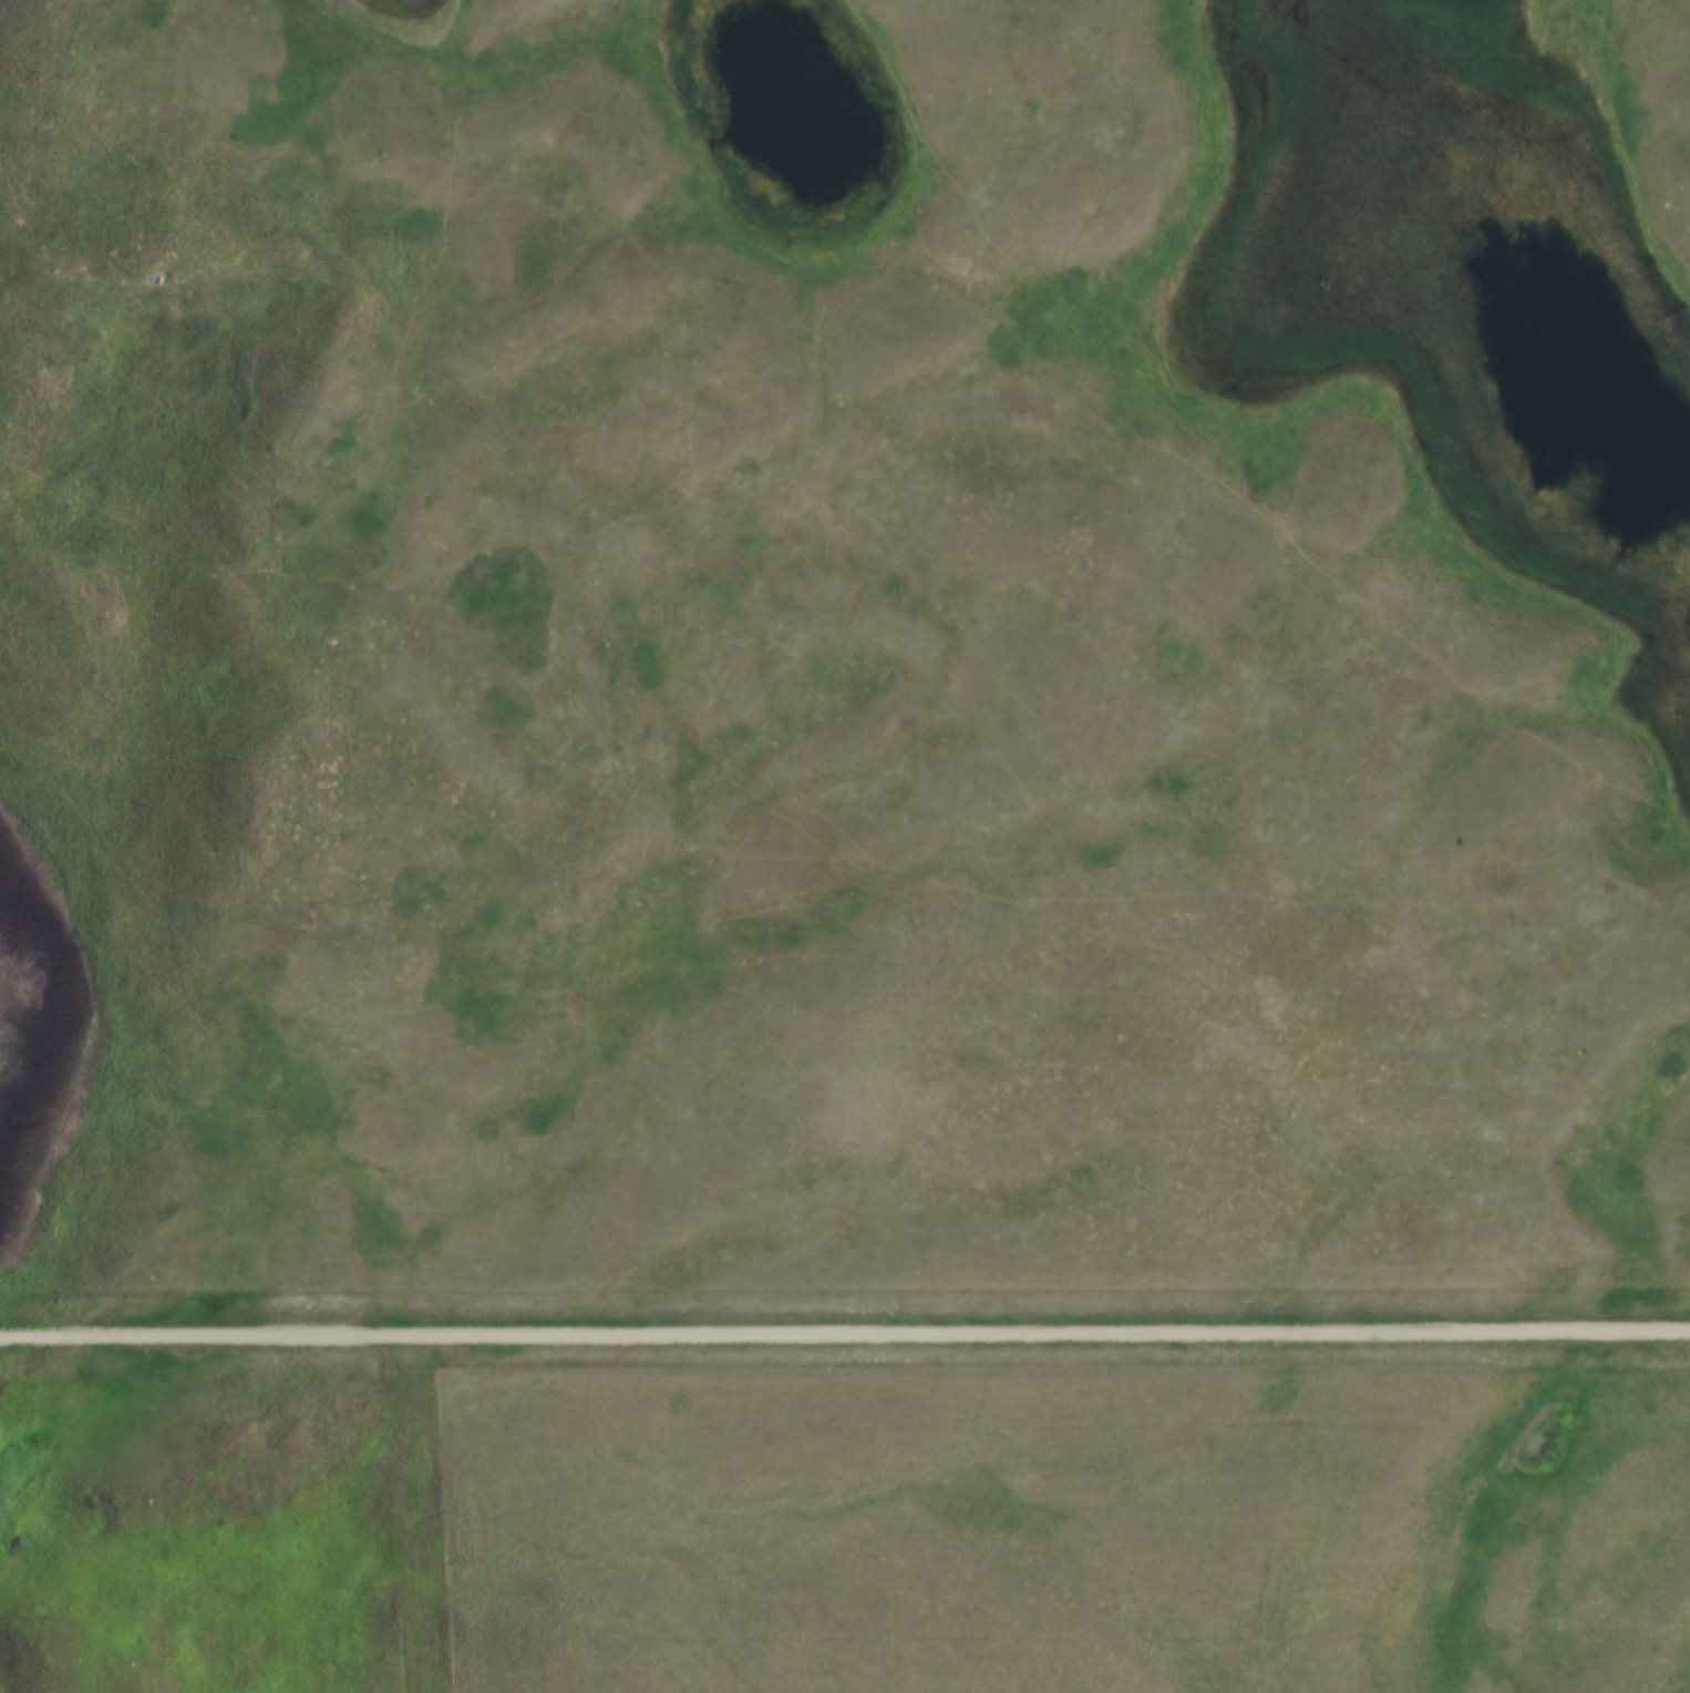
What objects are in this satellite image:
road: (844, 1335)
road: (437, 1515)

